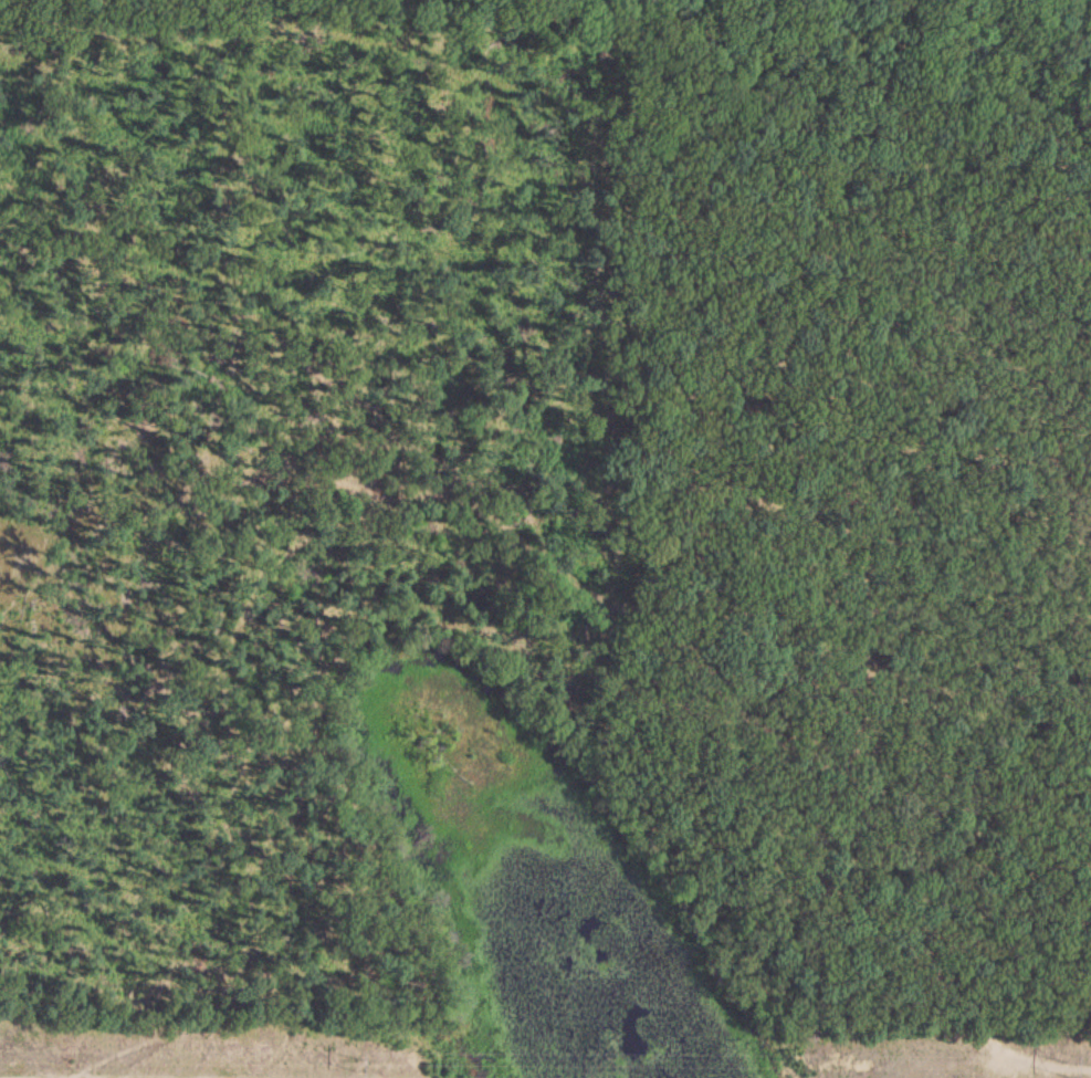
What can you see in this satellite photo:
power tower: (355, 1064)
power tower: (1067, 1068)

